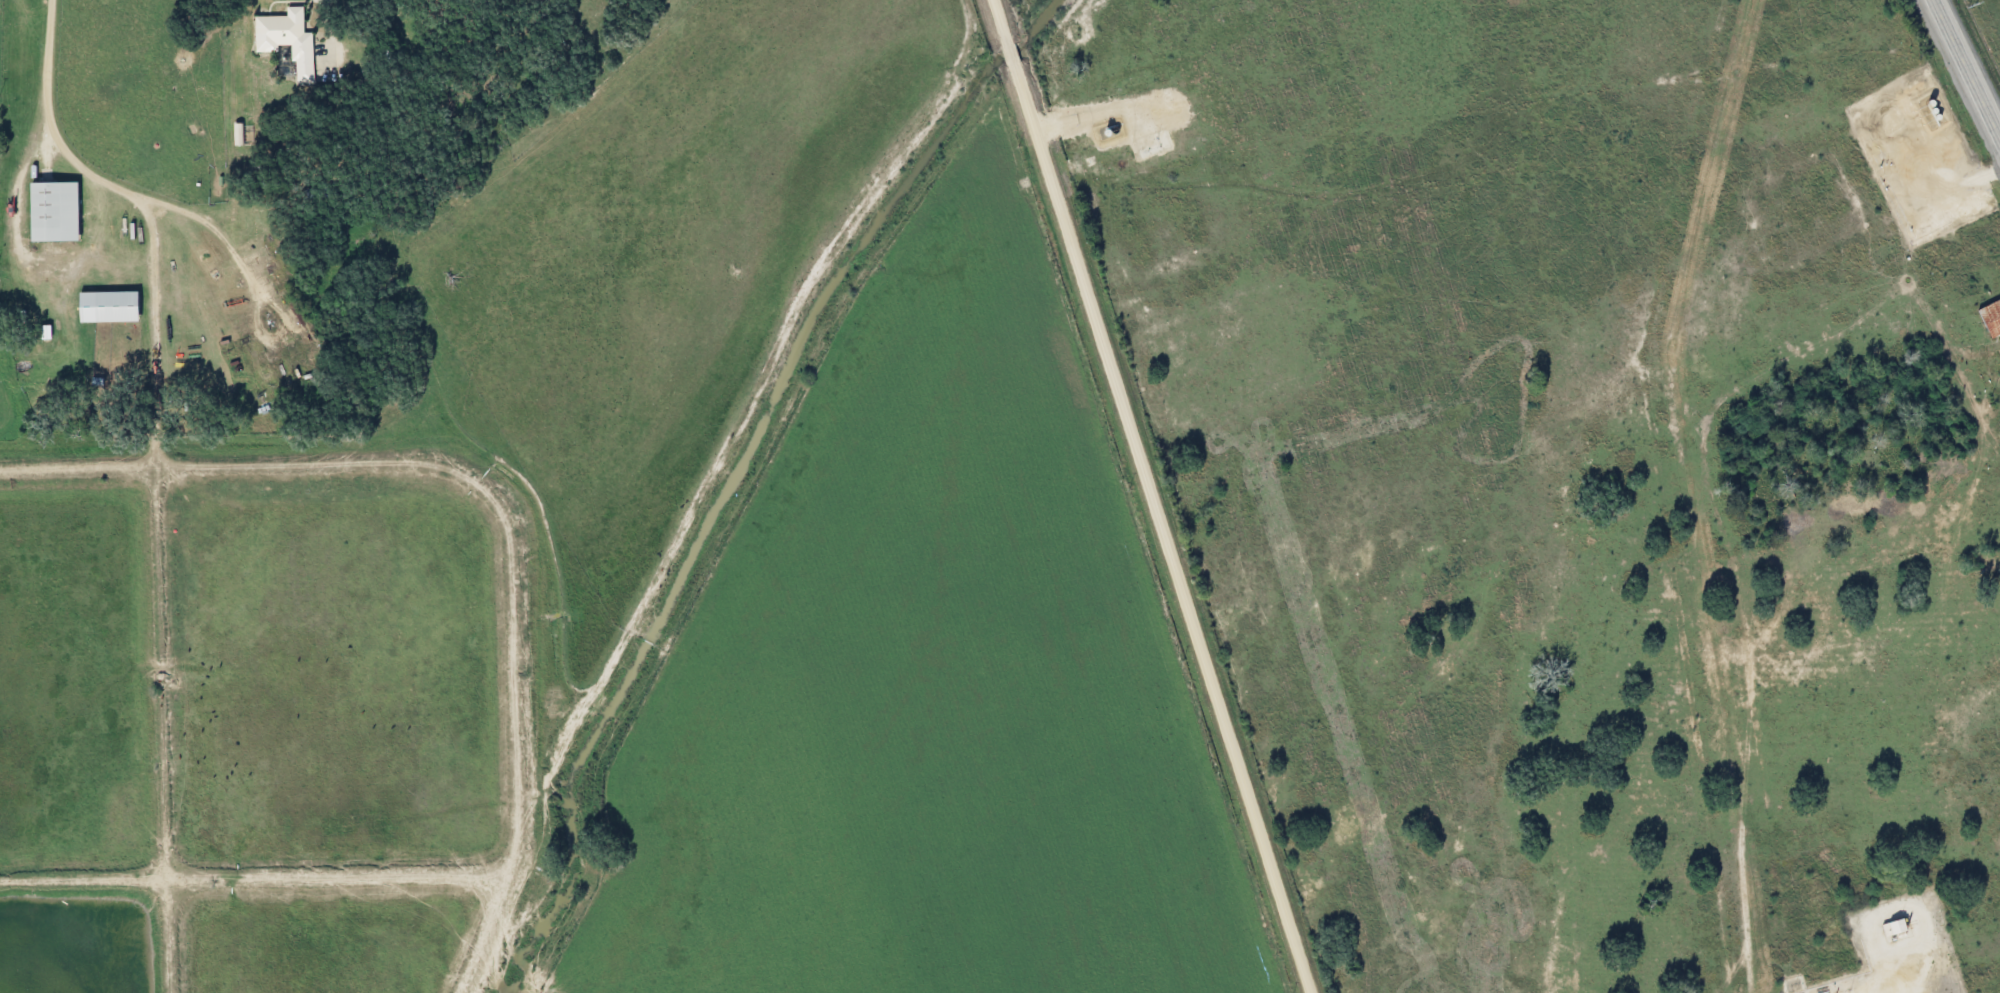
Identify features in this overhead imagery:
power tower: (1971, 3)
building: (282, 40)
road: (1966, 70)
road: (48, 115)
building: (48, 211)
building: (103, 306)
building: (1989, 318)
road: (1974, 356)
building: (1998, 360)
road: (1151, 496)
building: (1893, 930)

